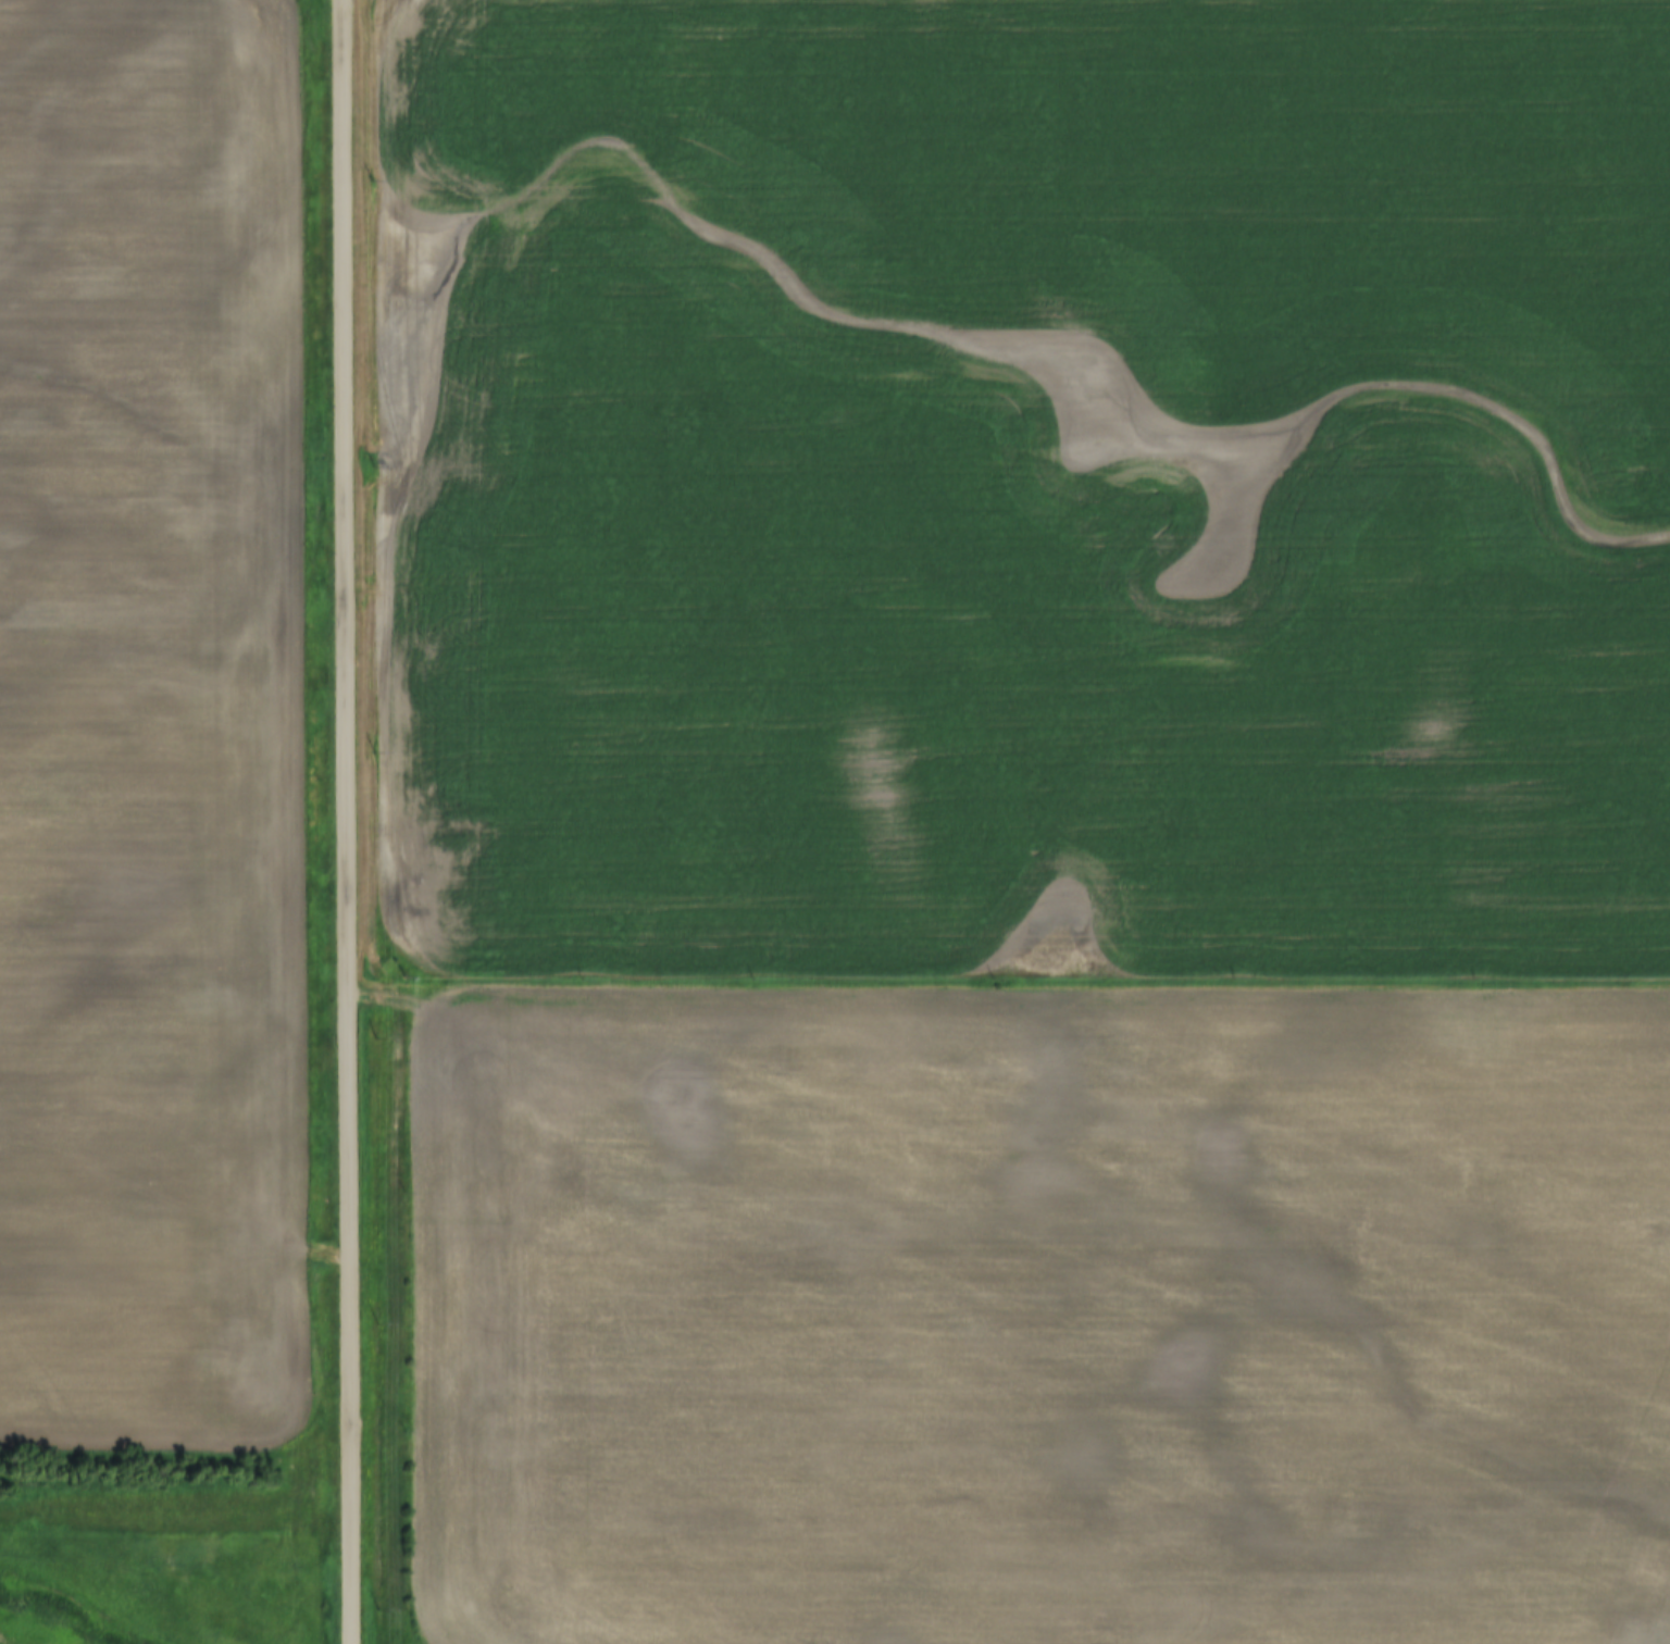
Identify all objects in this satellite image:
road: (345, 822)

